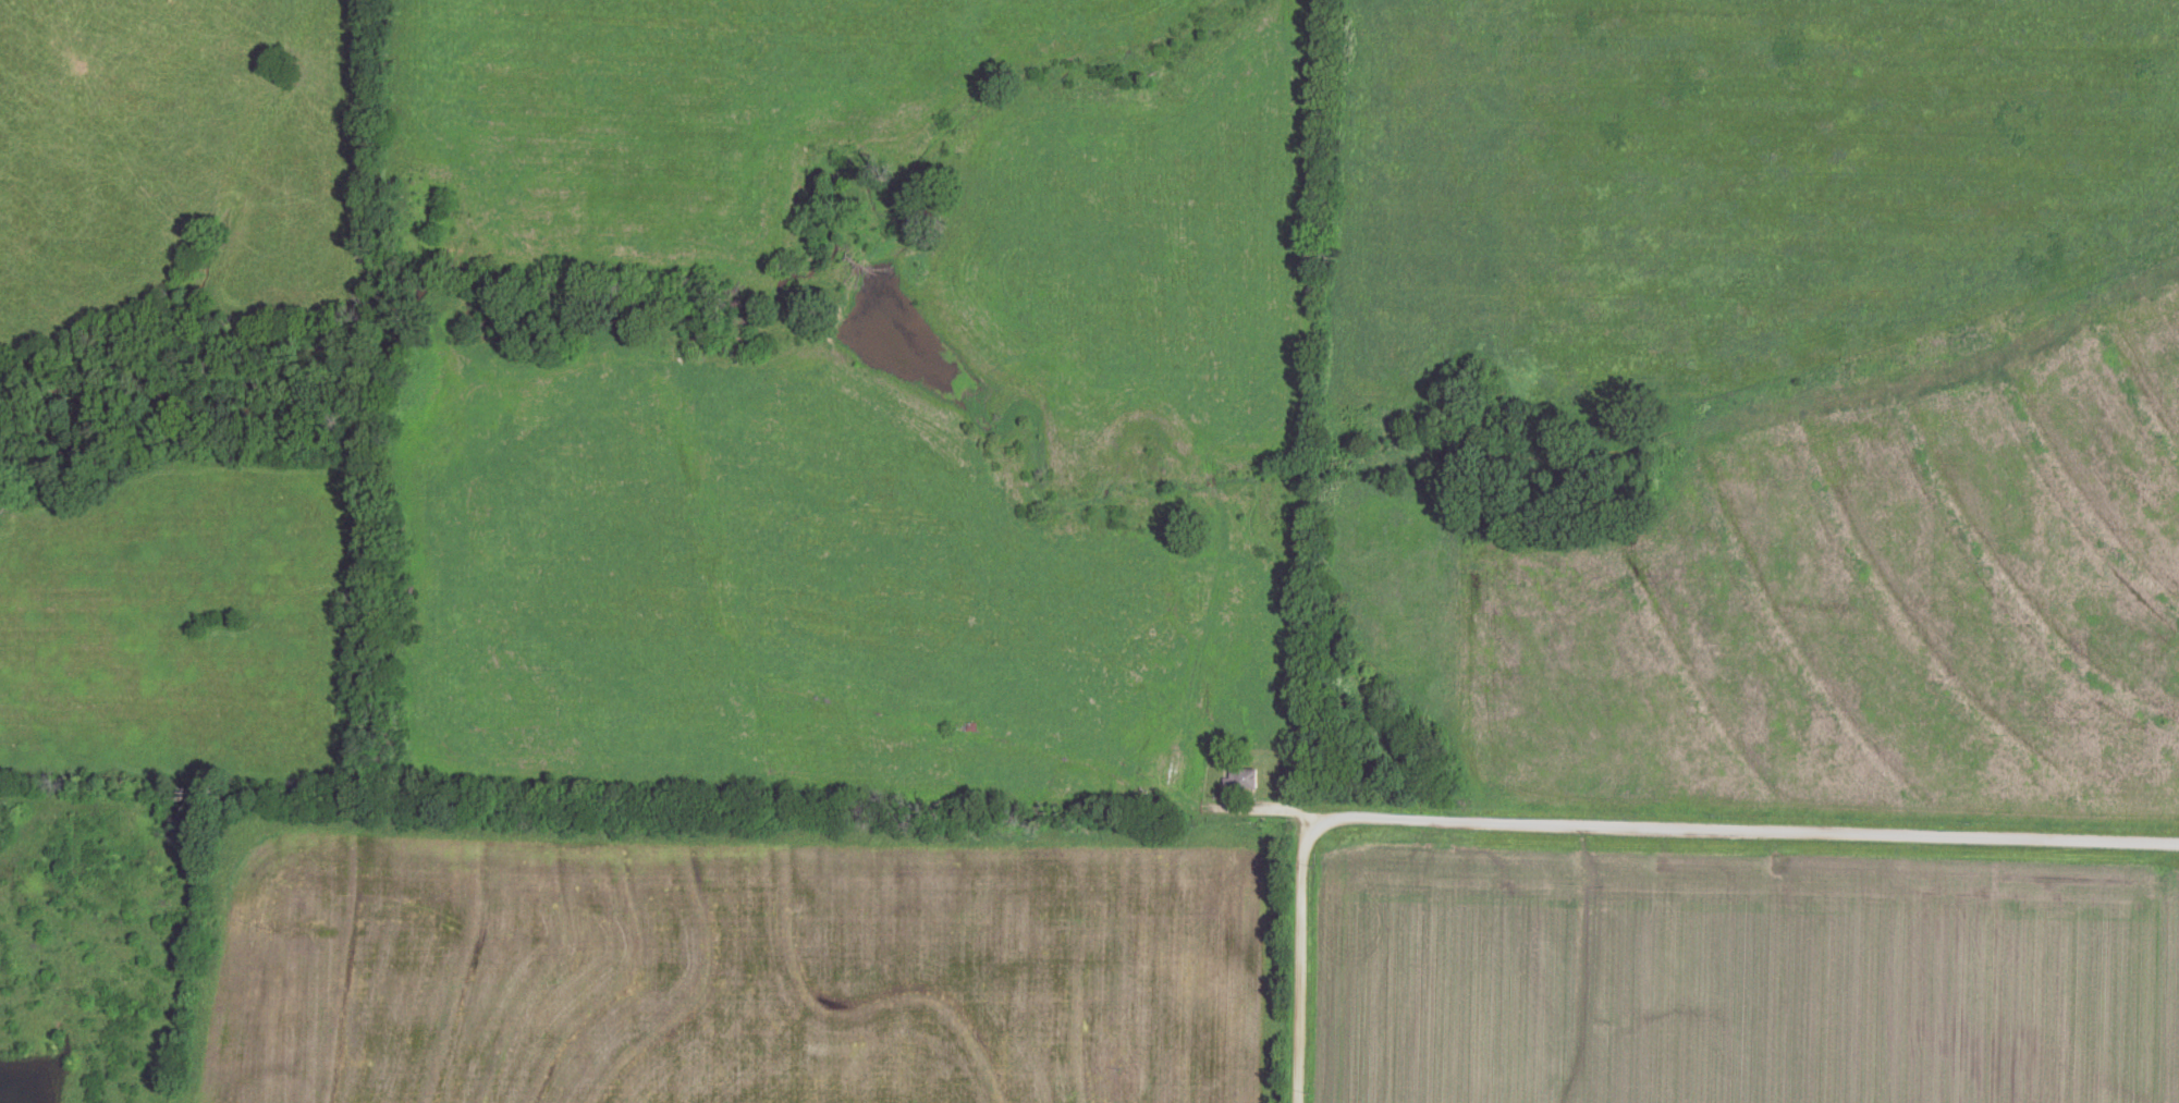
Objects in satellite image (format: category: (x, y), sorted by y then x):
crop: (1736, 193)
crop: (1820, 601)
building: (1242, 779)
road: (1269, 819)
road: (1759, 836)
road: (1300, 957)
crop: (1737, 970)

